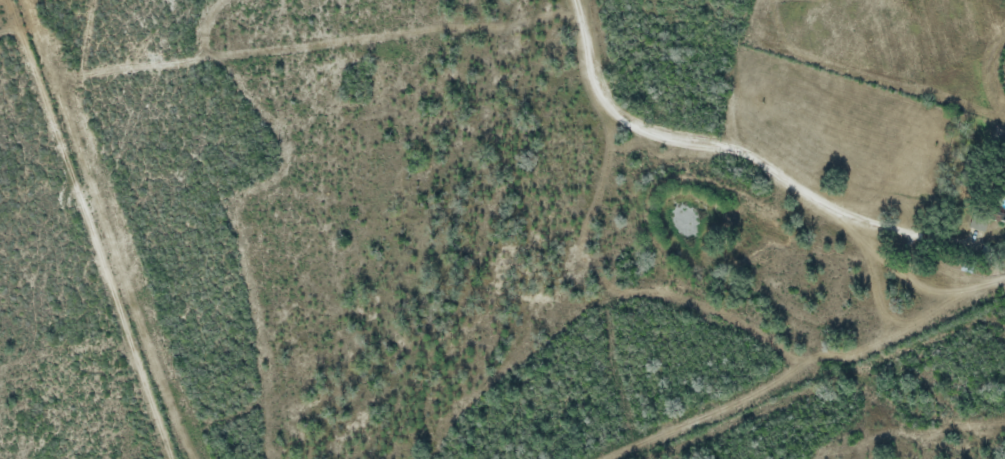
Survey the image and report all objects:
building: (978, 220)

